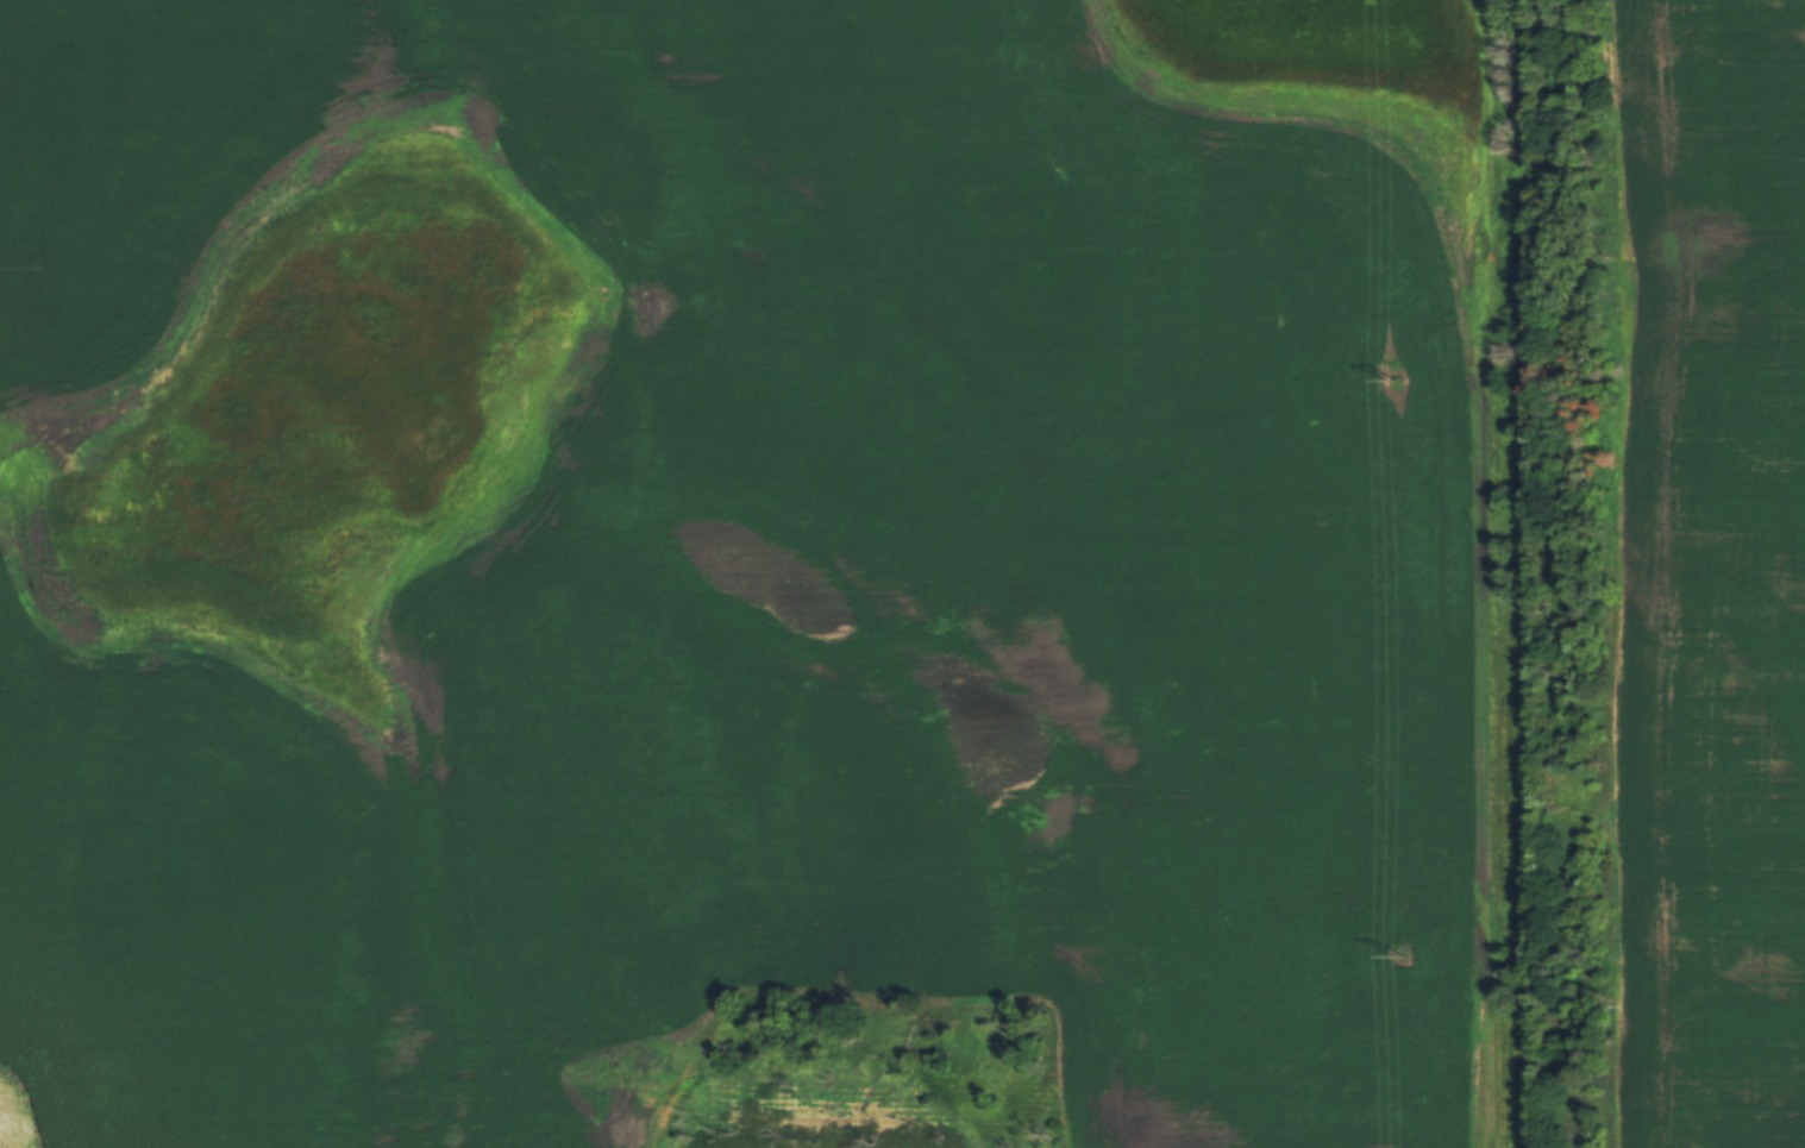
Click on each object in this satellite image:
power tower: (1392, 379)
road: (1500, 573)
power tower: (1398, 958)

